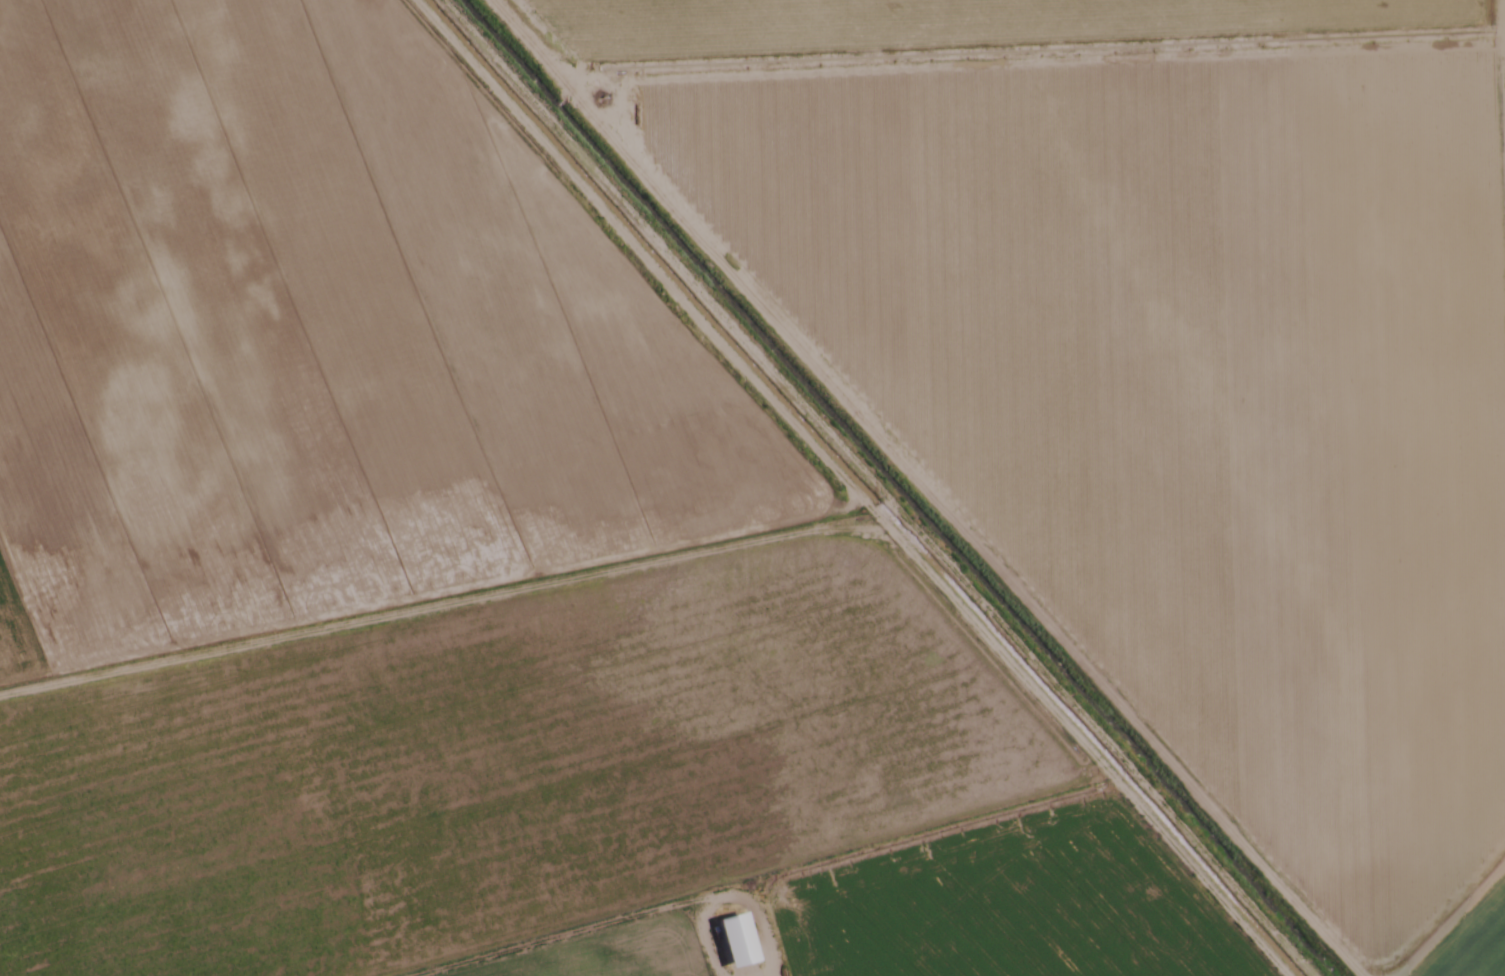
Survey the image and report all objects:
road: (922, 488)
building: (734, 942)

